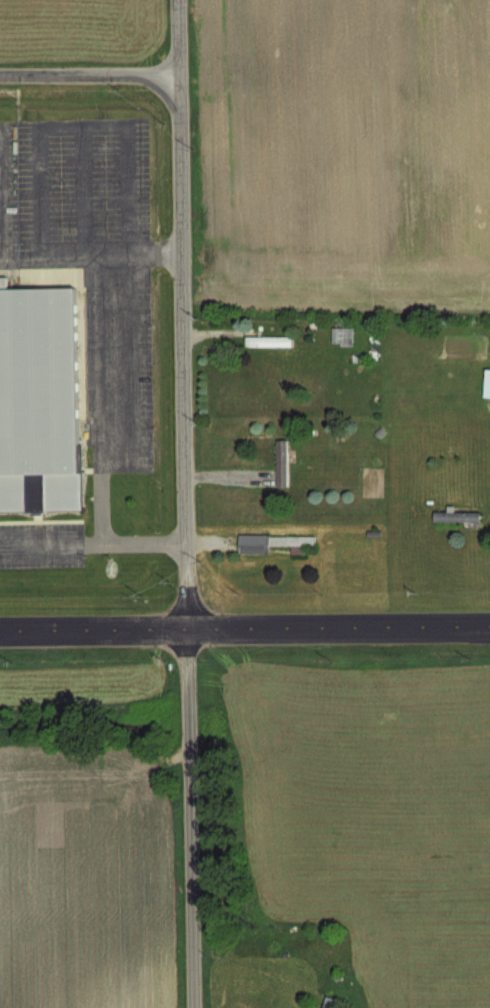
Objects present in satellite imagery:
road: (91, 70)
road: (84, 122)
road: (145, 250)
road: (187, 313)
building: (342, 335)
building: (269, 340)
building: (487, 382)
road: (104, 385)
building: (42, 400)
building: (279, 469)
building: (457, 516)
building: (277, 542)
road: (244, 627)
road: (190, 818)
building: (329, 1002)

